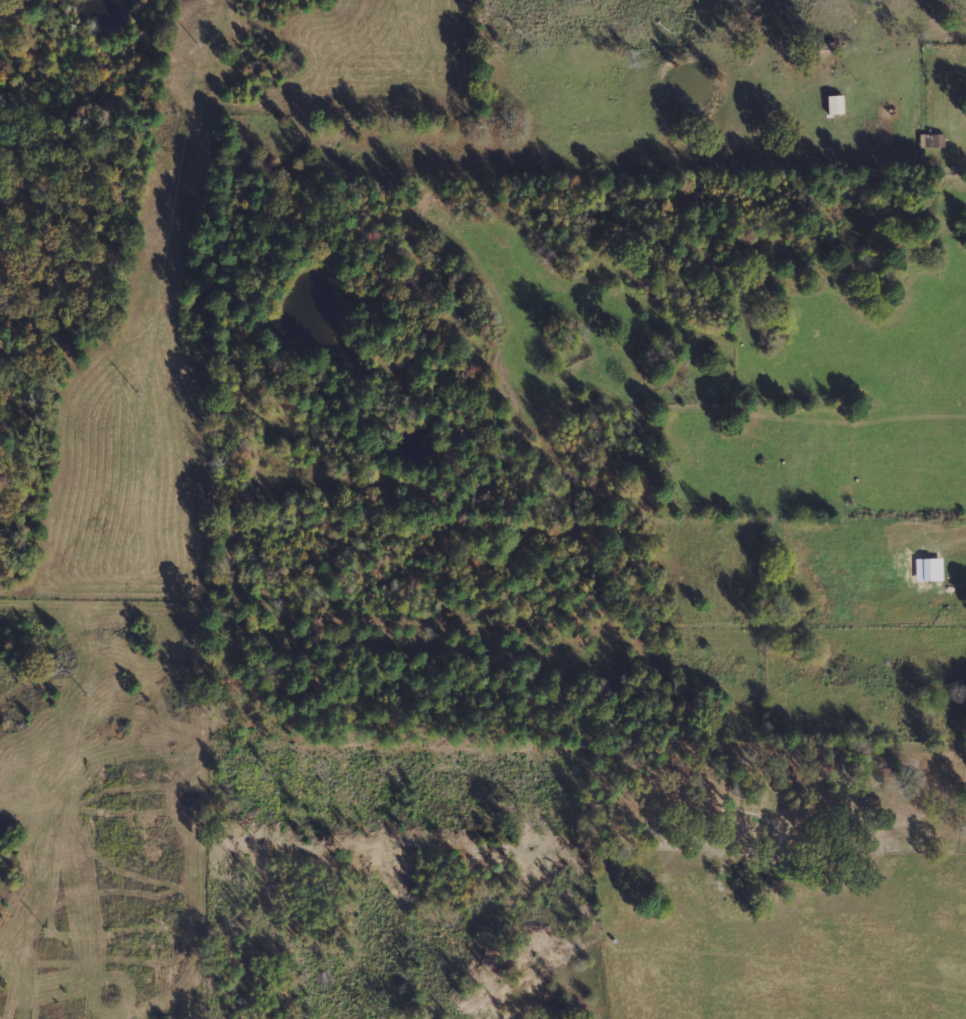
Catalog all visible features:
building: (835, 105)
road: (839, 355)
road: (906, 616)

